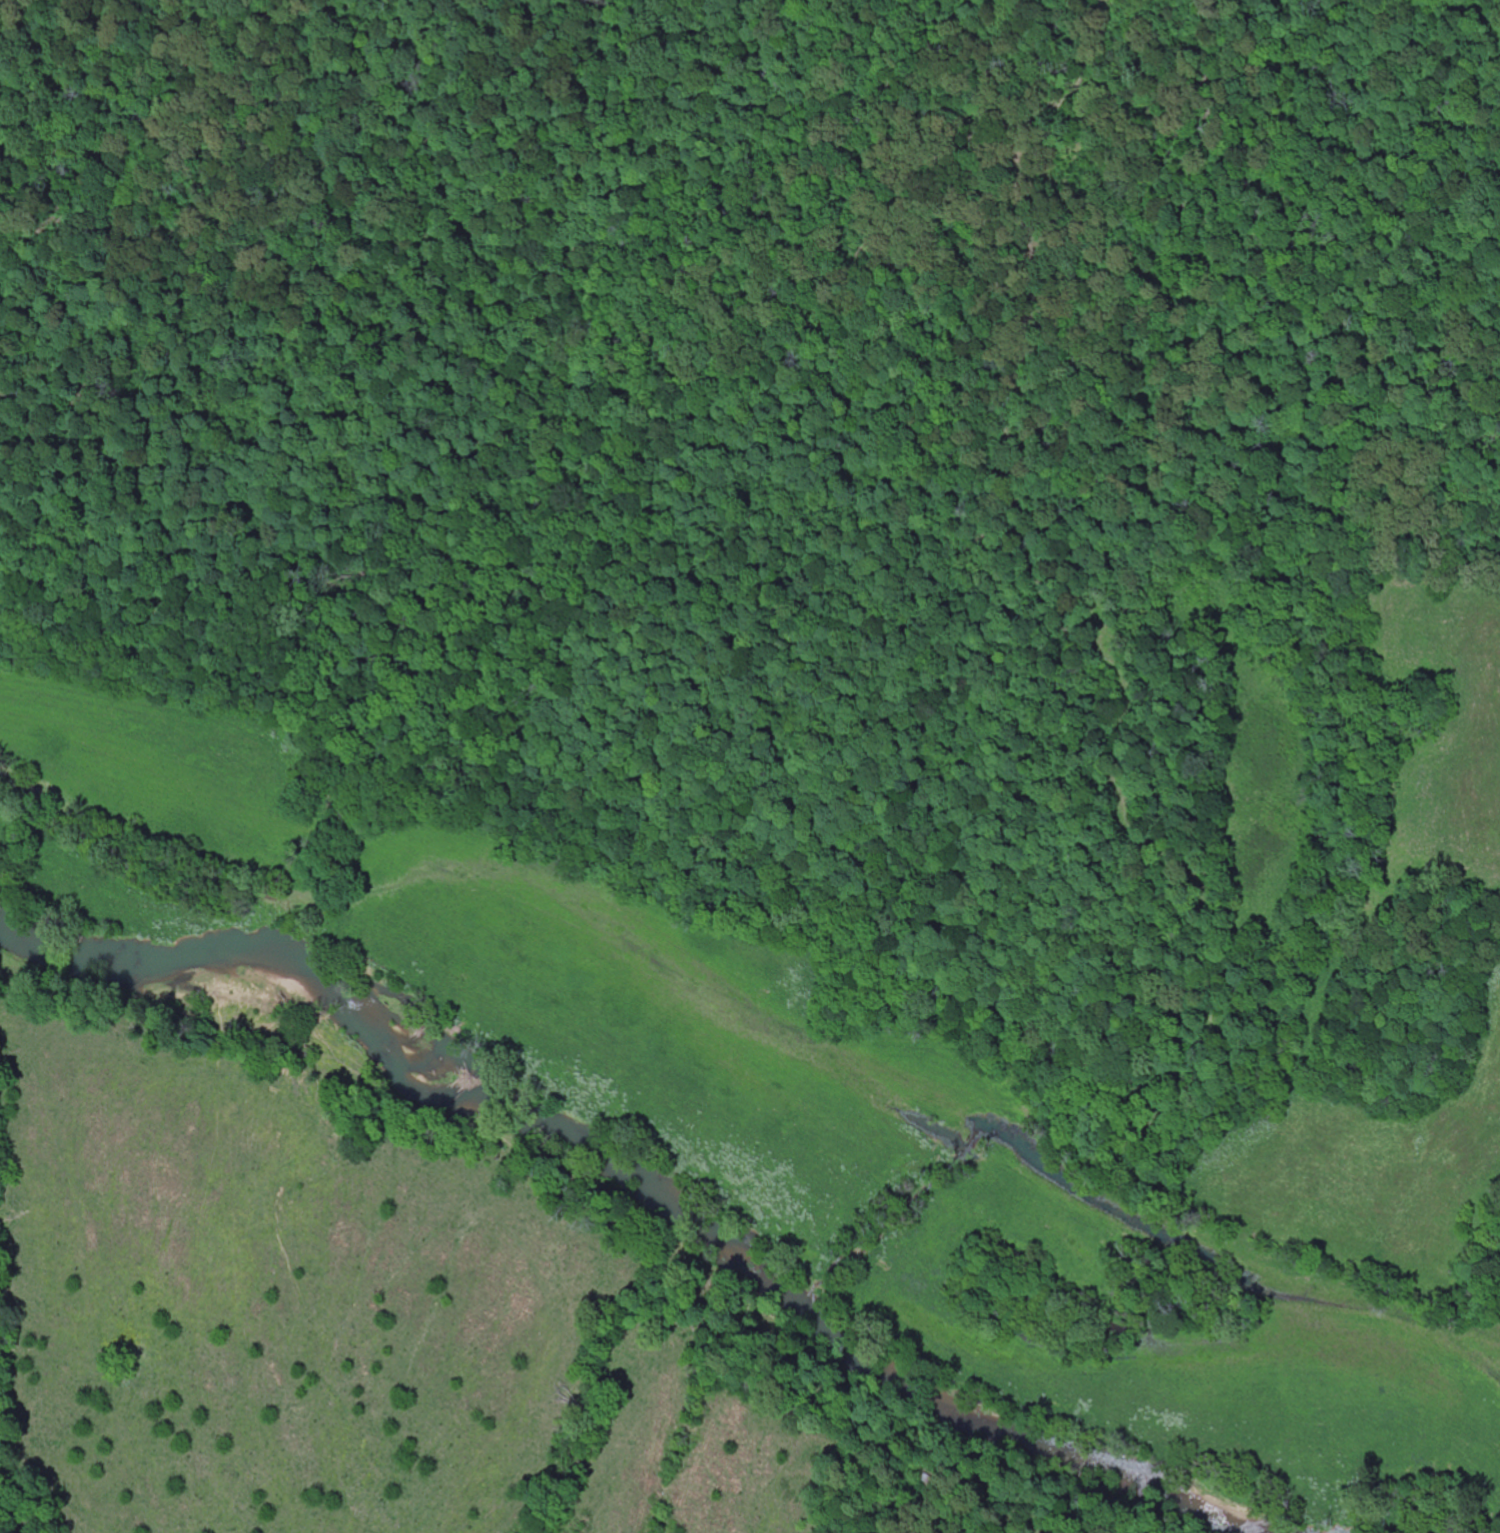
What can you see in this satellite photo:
river: (623, 1176)

